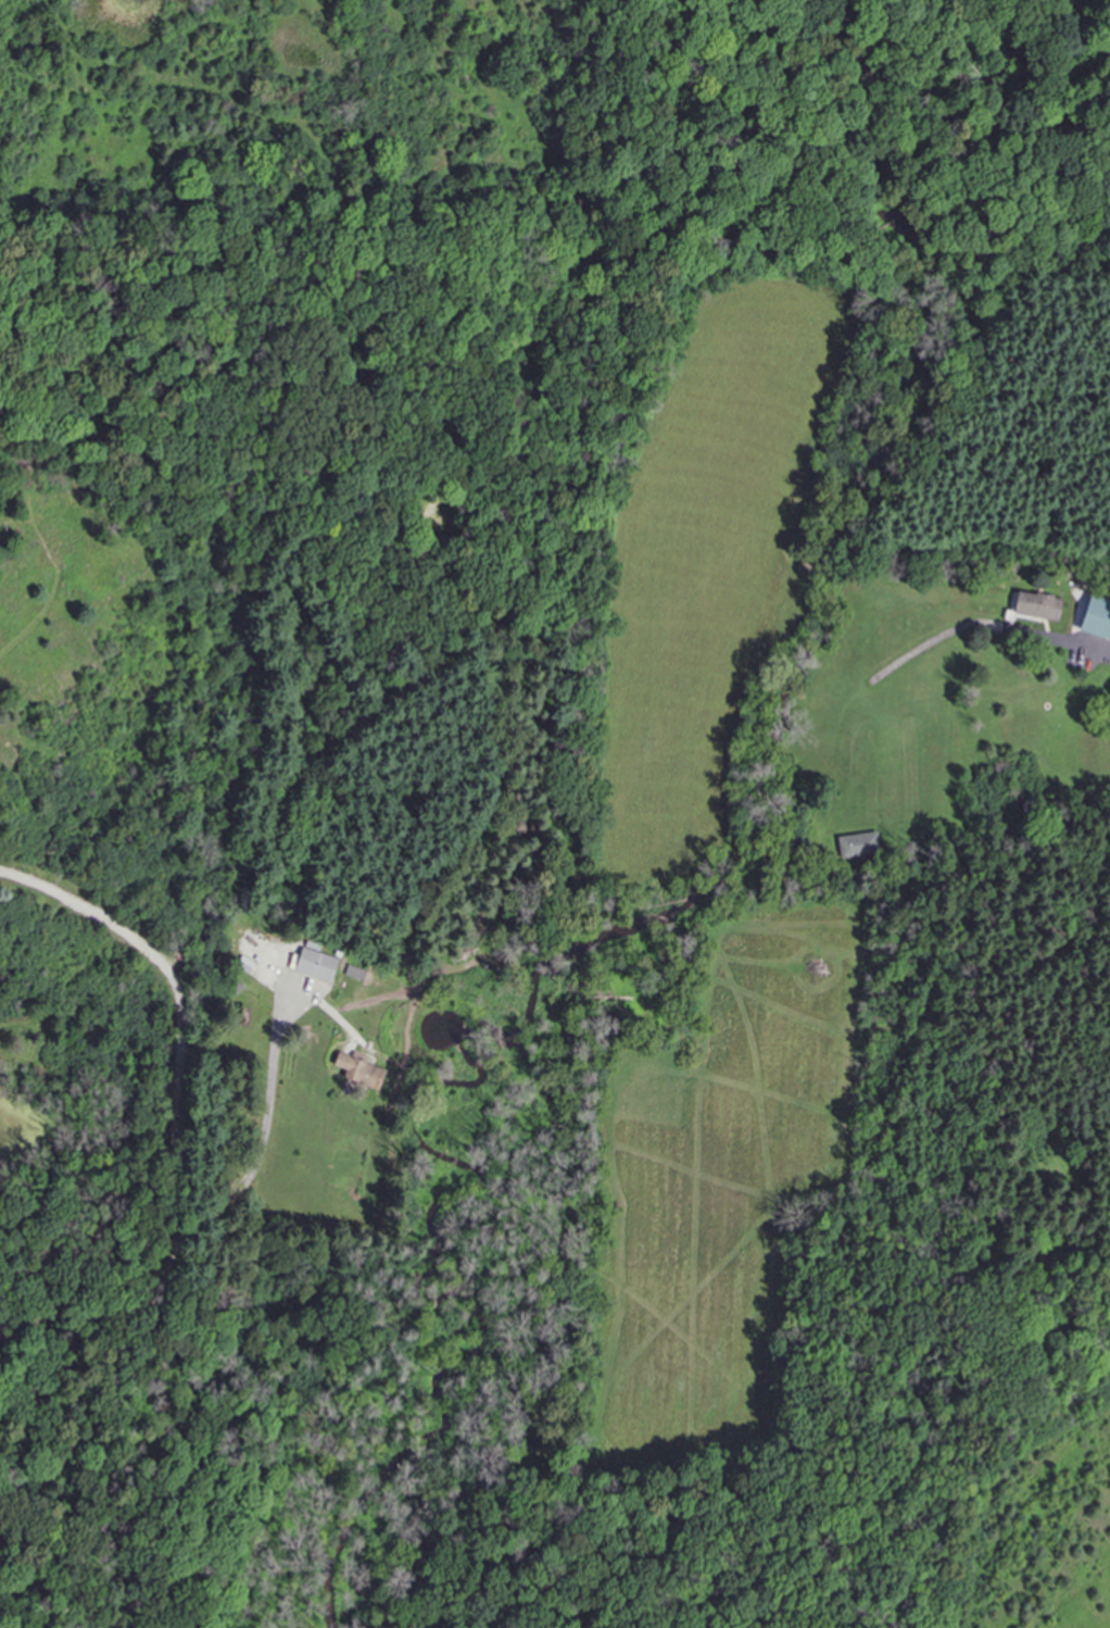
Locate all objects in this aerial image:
building: (1037, 605)
river: (699, 835)
building: (858, 844)
building: (355, 972)
road: (177, 1007)
building: (360, 1069)
road: (153, 1308)

